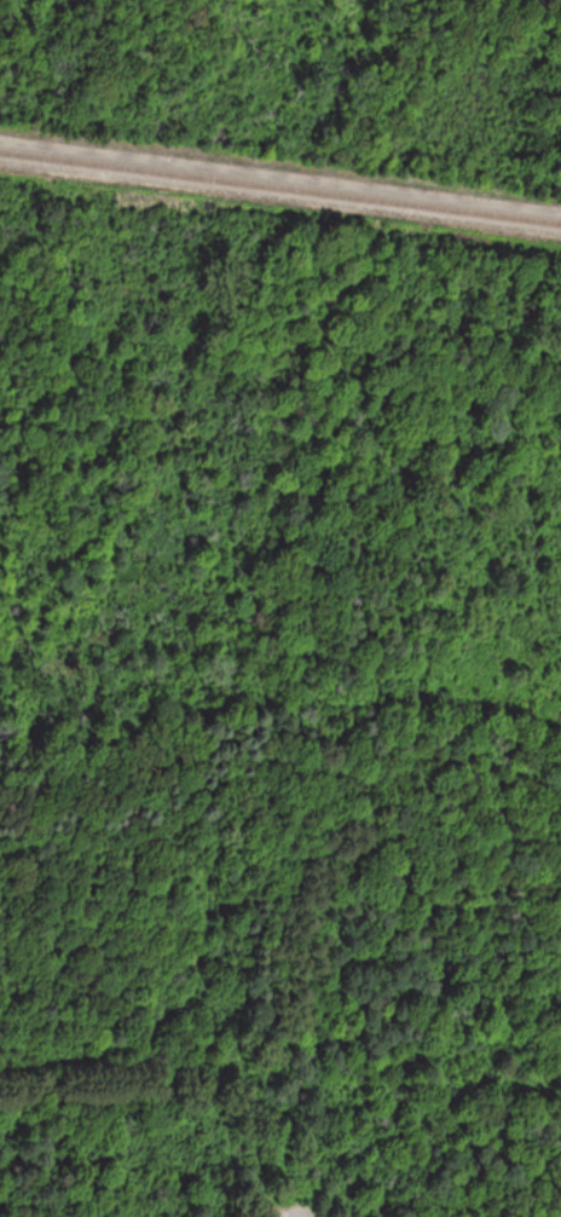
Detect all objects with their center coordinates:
railway: (279, 188)
park: (280, 608)
road: (291, 1206)

